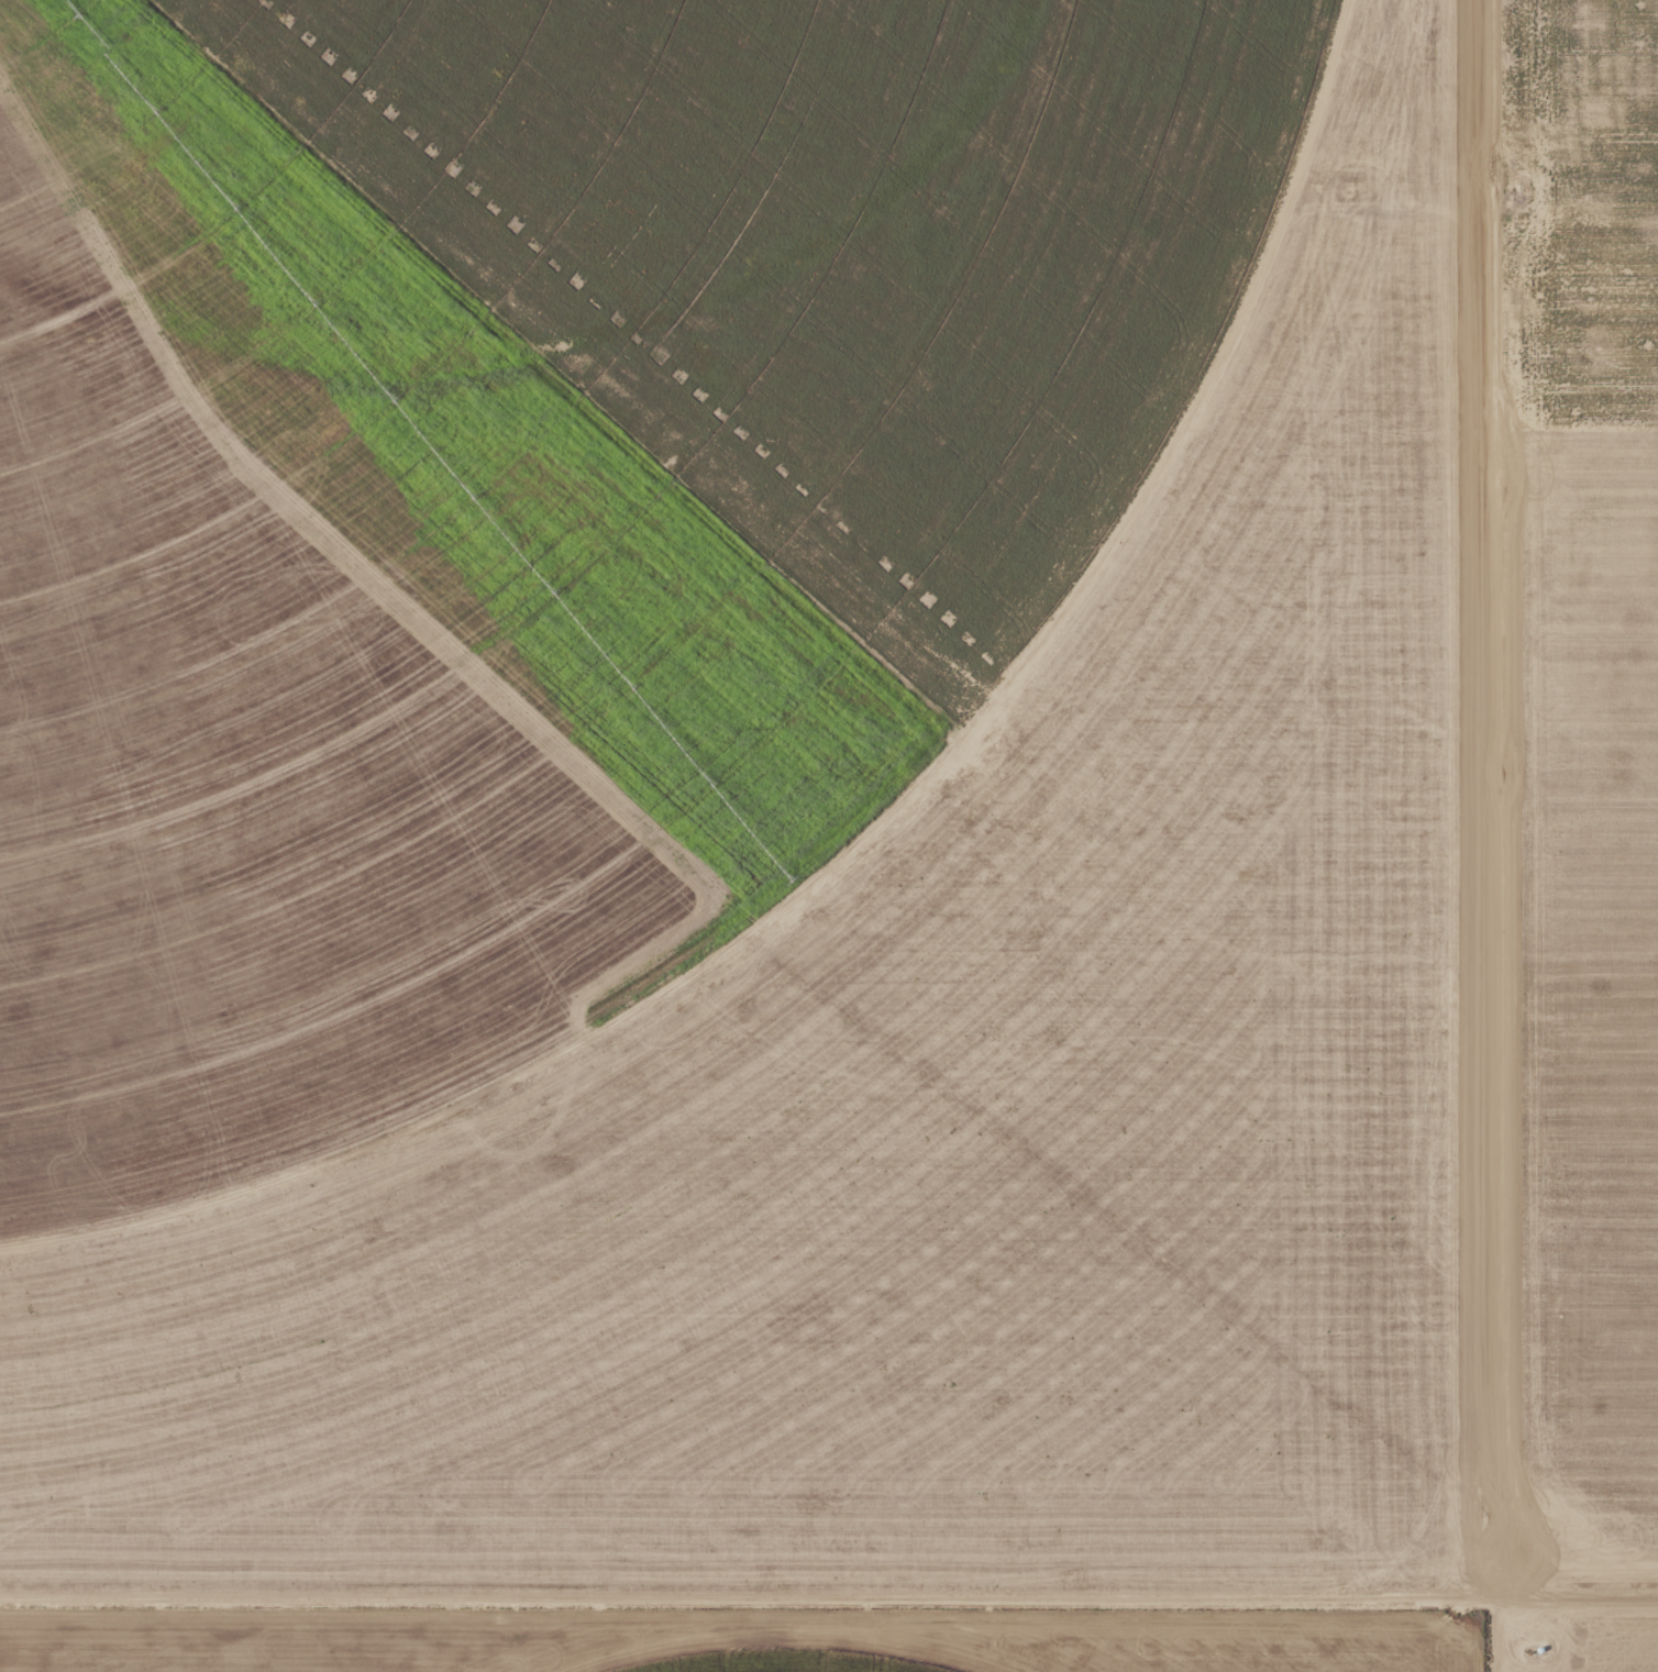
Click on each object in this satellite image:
road: (1491, 835)
road: (749, 1651)

